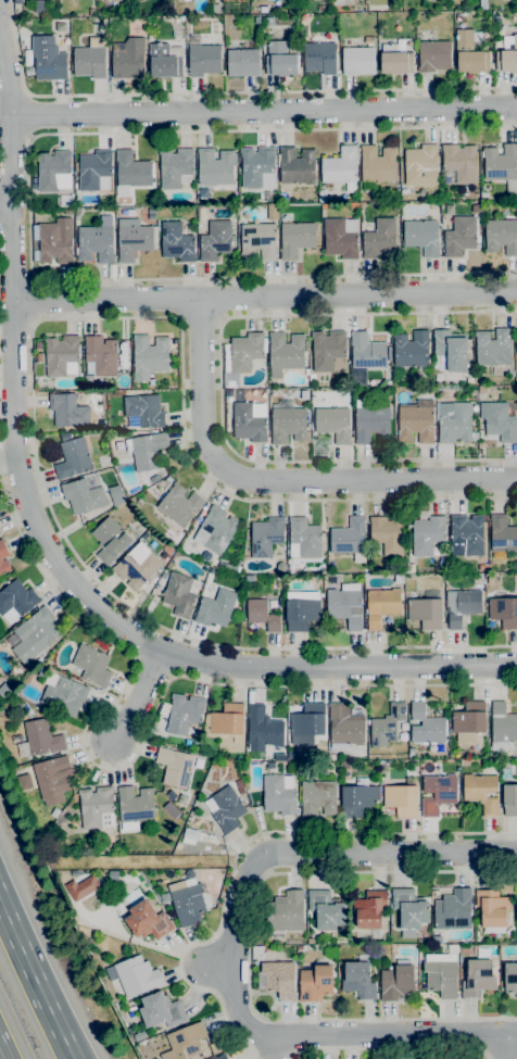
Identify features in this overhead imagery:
building: (17, 1)
building: (483, 4)
building: (39, 5)
building: (217, 8)
building: (320, 8)
building: (261, 10)
building: (91, 12)
building: (99, 13)
building: (18, 15)
building: (459, 15)
building: (181, 17)
building: (304, 17)
building: (257, 20)
building: (268, 21)
building: (369, 40)
building: (470, 52)
building: (433, 55)
building: (28, 58)
building: (319, 58)
building: (507, 58)
building: (48, 59)
building: (90, 59)
building: (128, 59)
building: (280, 59)
building: (204, 60)
building: (394, 60)
building: (165, 61)
building: (358, 61)
building: (242, 63)
building: (29, 71)
road: (224, 91)
road: (263, 110)
road: (30, 116)
building: (459, 162)
building: (378, 164)
building: (420, 165)
building: (501, 165)
building: (75, 166)
building: (295, 166)
building: (176, 167)
building: (215, 167)
building: (257, 167)
building: (340, 167)
building: (93, 168)
building: (131, 169)
building: (53, 171)
road: (4, 203)
road: (28, 206)
building: (272, 212)
building: (459, 236)
building: (501, 236)
building: (421, 237)
building: (340, 238)
building: (295, 239)
building: (380, 239)
building: (216, 240)
building: (55, 241)
building: (134, 241)
building: (257, 241)
building: (176, 242)
building: (94, 243)
building: (111, 270)
road: (264, 298)
road: (33, 300)
building: (516, 340)
building: (493, 346)
building: (327, 349)
building: (366, 351)
building: (412, 351)
building: (449, 351)
building: (243, 352)
building: (285, 353)
building: (100, 355)
building: (149, 355)
building: (61, 356)
building: (38, 357)
road: (33, 366)
building: (502, 370)
building: (510, 374)
building: (88, 379)
building: (77, 381)
building: (469, 381)
road: (222, 382)
building: (48, 384)
building: (481, 389)
building: (110, 393)
building: (303, 394)
building: (475, 408)
building: (67, 411)
building: (143, 411)
building: (497, 420)
building: (249, 421)
building: (287, 421)
building: (333, 423)
building: (370, 423)
building: (415, 424)
building: (455, 424)
building: (146, 450)
building: (72, 457)
building: (154, 479)
road: (280, 481)
building: (116, 494)
building: (83, 496)
building: (178, 508)
building: (200, 518)
building: (138, 527)
building: (215, 530)
building: (427, 532)
building: (468, 532)
building: (387, 534)
building: (502, 534)
building: (266, 535)
building: (304, 538)
building: (349, 539)
building: (110, 540)
building: (191, 545)
road: (49, 549)
building: (2, 556)
building: (164, 557)
building: (440, 562)
building: (137, 567)
building: (228, 567)
building: (181, 594)
building: (15, 601)
building: (383, 604)
building: (345, 605)
building: (462, 606)
building: (216, 608)
building: (503, 612)
building: (425, 613)
building: (301, 614)
building: (263, 615)
building: (35, 634)
building: (92, 666)
building: (41, 672)
building: (4, 690)
building: (62, 694)
road: (140, 698)
building: (11, 703)
building: (184, 714)
building: (469, 718)
building: (308, 719)
building: (225, 720)
building: (387, 724)
building: (344, 727)
building: (426, 727)
building: (502, 727)
building: (263, 729)
building: (37, 739)
road: (138, 748)
building: (174, 767)
building: (51, 776)
building: (239, 786)
building: (279, 792)
building: (481, 792)
building: (438, 793)
building: (357, 797)
building: (317, 798)
building: (401, 799)
building: (509, 799)
building: (135, 805)
building: (97, 807)
building: (225, 808)
building: (171, 810)
building: (190, 834)
building: (190, 843)
road: (244, 843)
road: (390, 854)
building: (83, 887)
building: (165, 897)
building: (189, 899)
building: (409, 908)
building: (326, 909)
building: (370, 909)
building: (453, 909)
building: (492, 910)
building: (516, 910)
building: (286, 911)
building: (144, 916)
road: (131, 941)
road: (250, 949)
building: (255, 950)
road: (235, 953)
road: (217, 965)
building: (134, 975)
building: (441, 978)
building: (478, 978)
building: (277, 979)
building: (510, 979)
road: (36, 980)
building: (358, 980)
building: (396, 981)
building: (315, 983)
building: (161, 1010)
road: (394, 1034)
building: (138, 1036)
building: (185, 1043)
road: (505, 1046)
road: (270, 1047)
road: (389, 1048)
road: (501, 1054)
road: (0, 1057)
building: (220, 1057)

